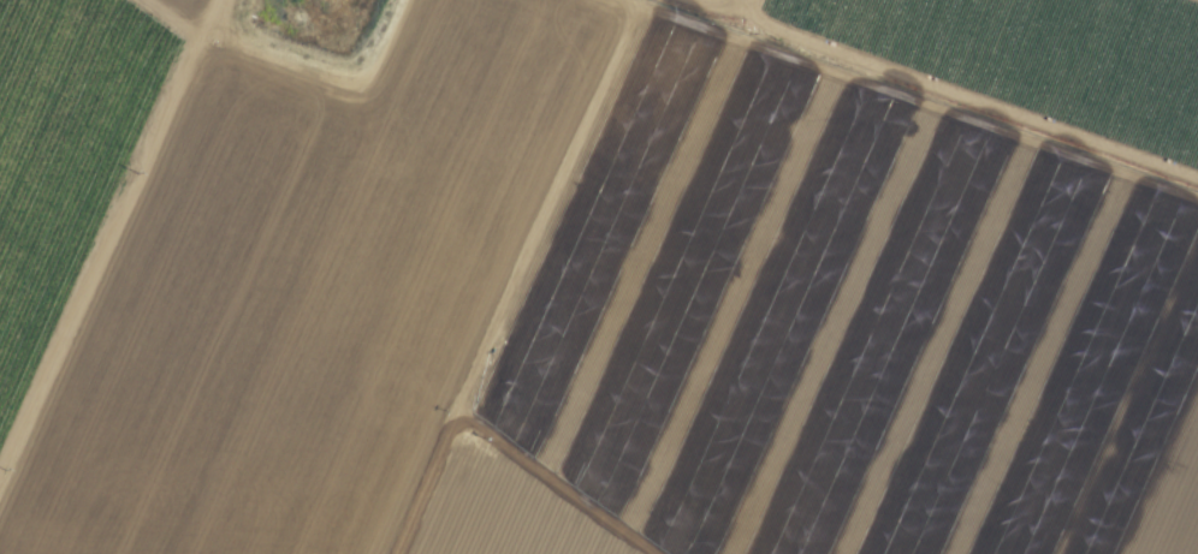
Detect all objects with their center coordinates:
road: (737, 5)
wastewater plant: (313, 22)
crop: (599, 276)

